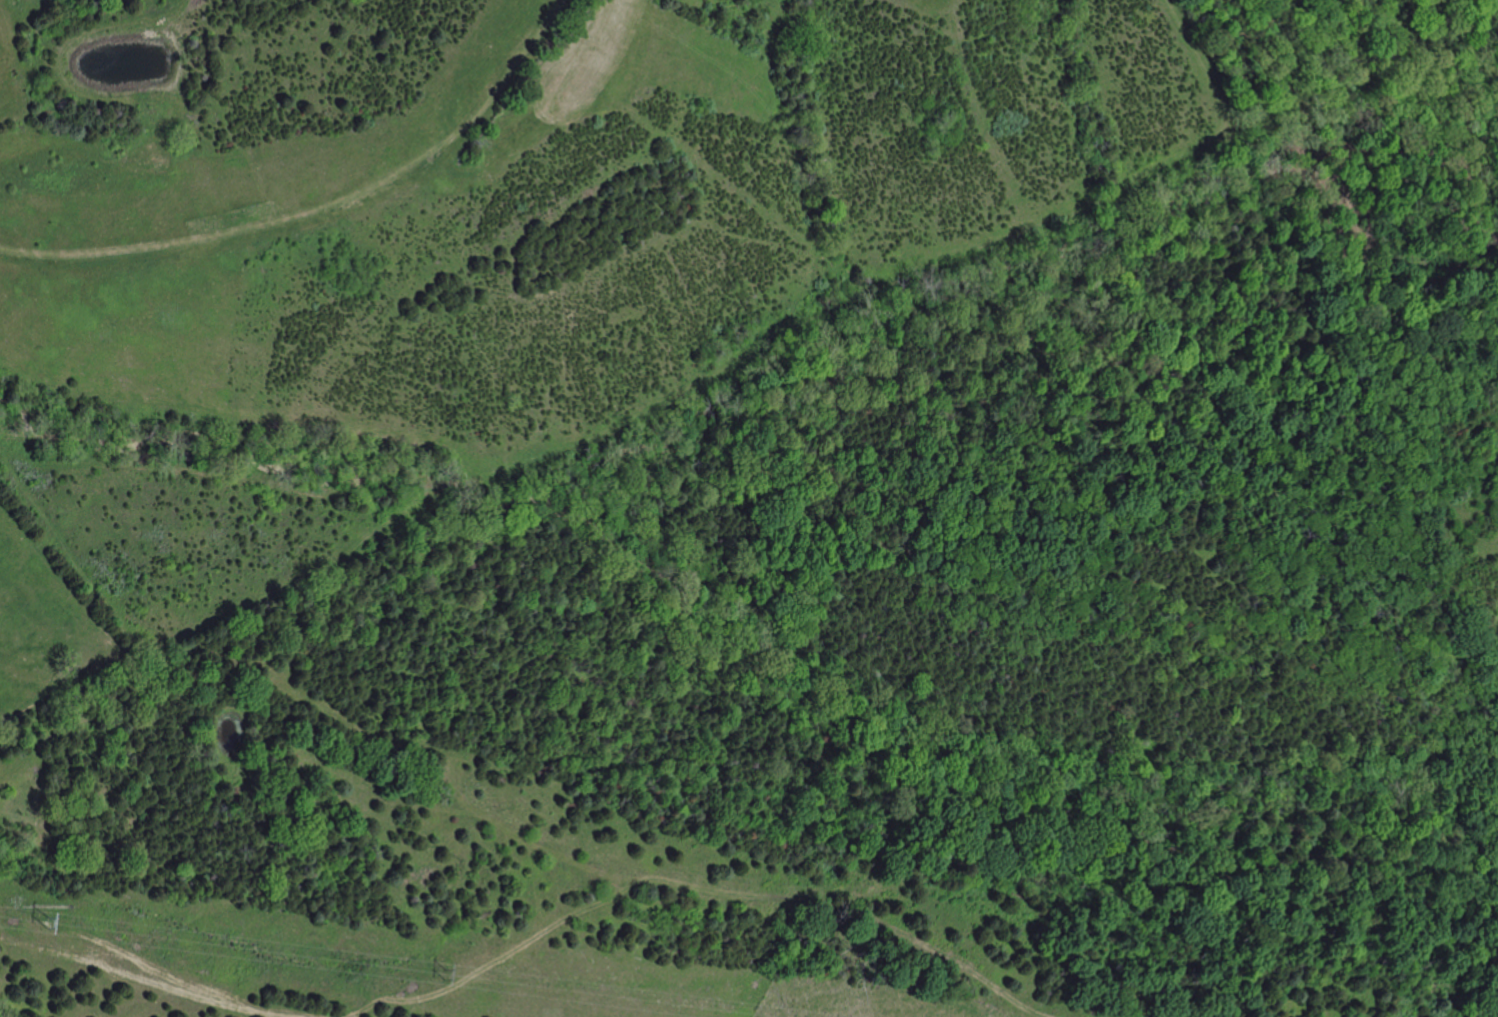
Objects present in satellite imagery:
road: (242, 235)
power tower: (54, 926)
power tower: (447, 975)

